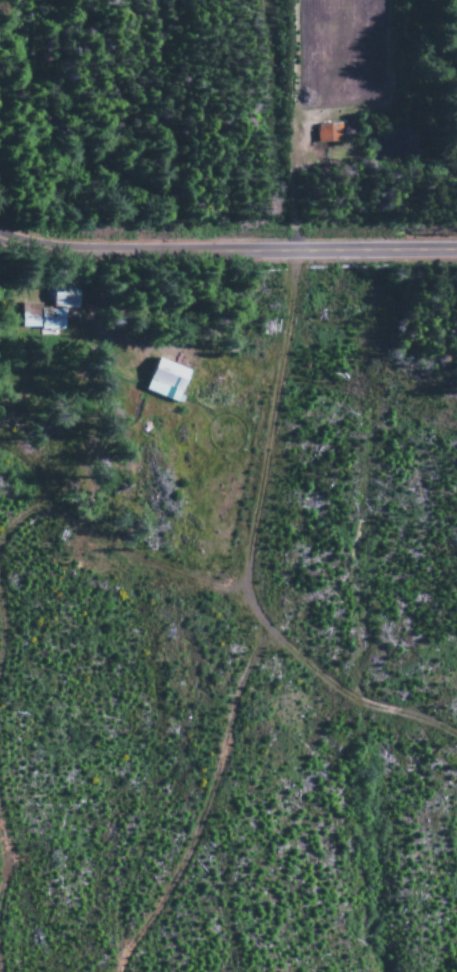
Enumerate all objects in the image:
crop: (341, 52)
building: (325, 134)
road: (294, 190)
road: (227, 254)
building: (46, 310)
building: (162, 381)

